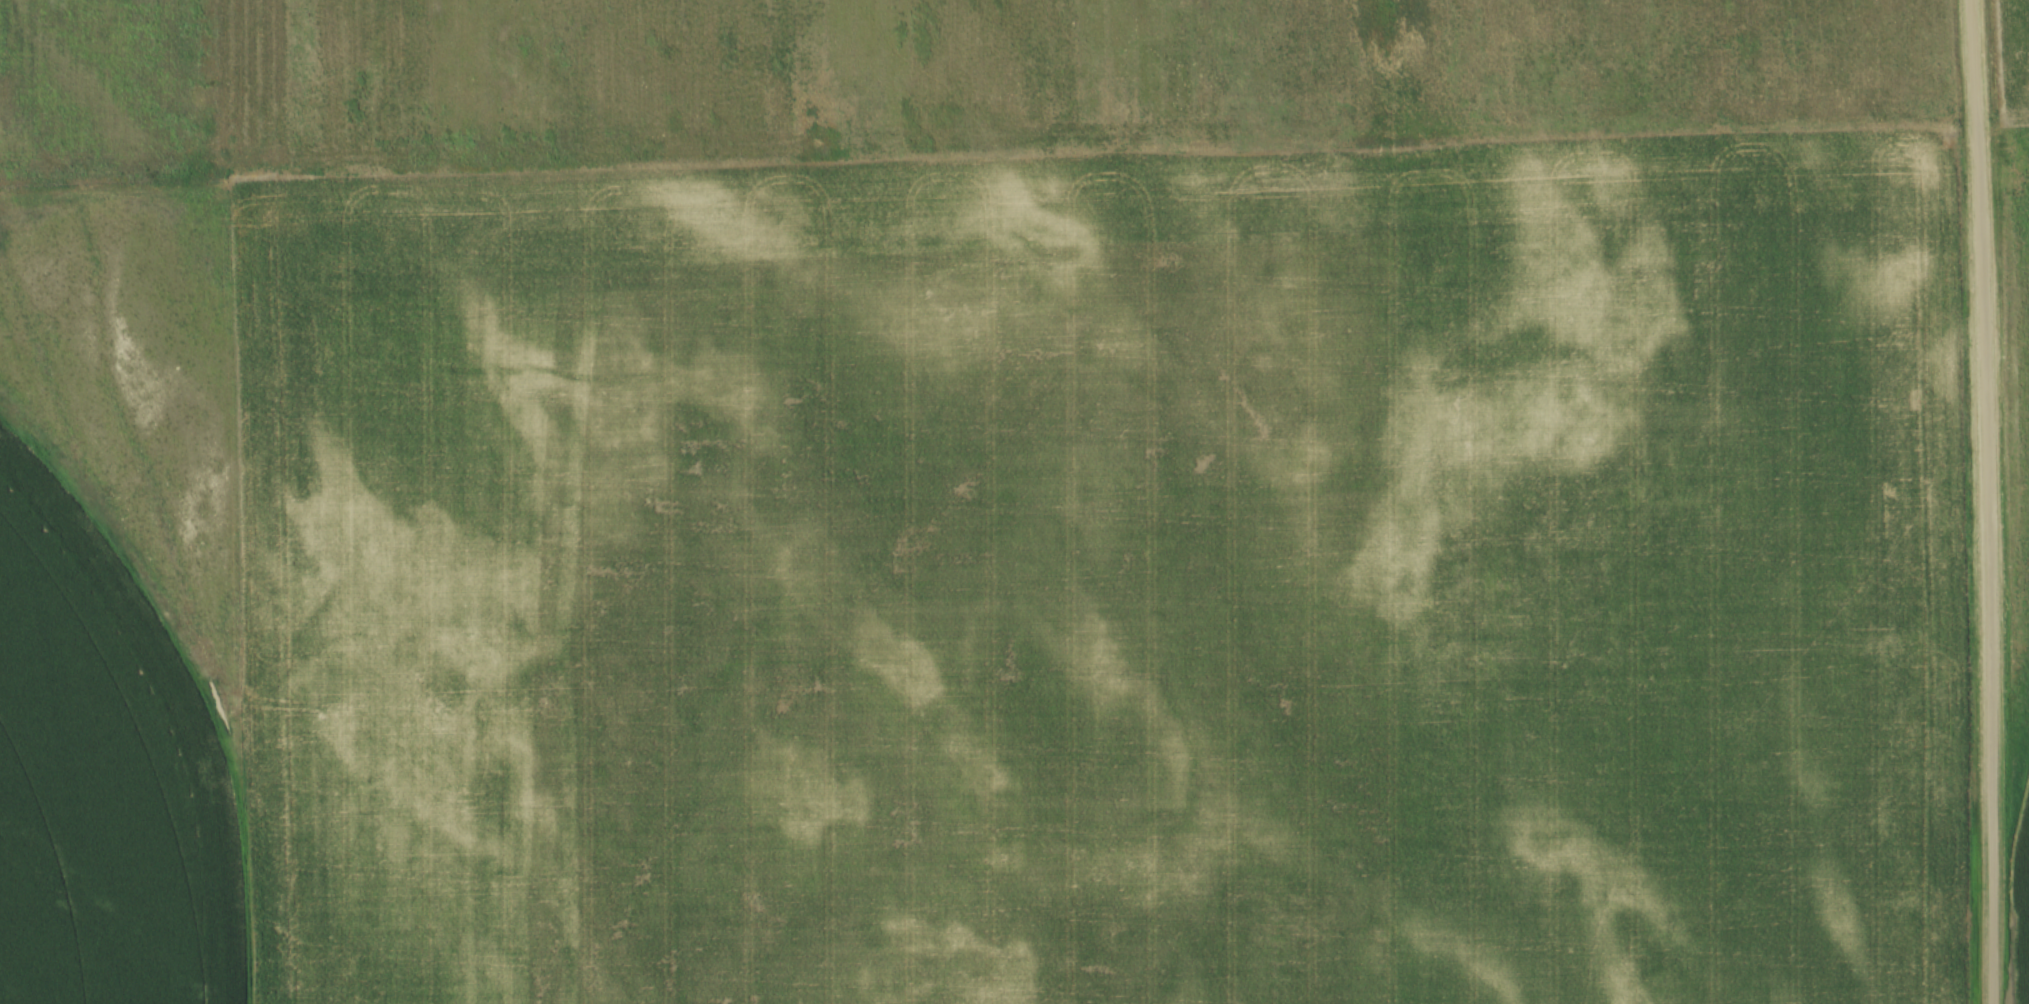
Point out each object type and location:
road: (1988, 501)

